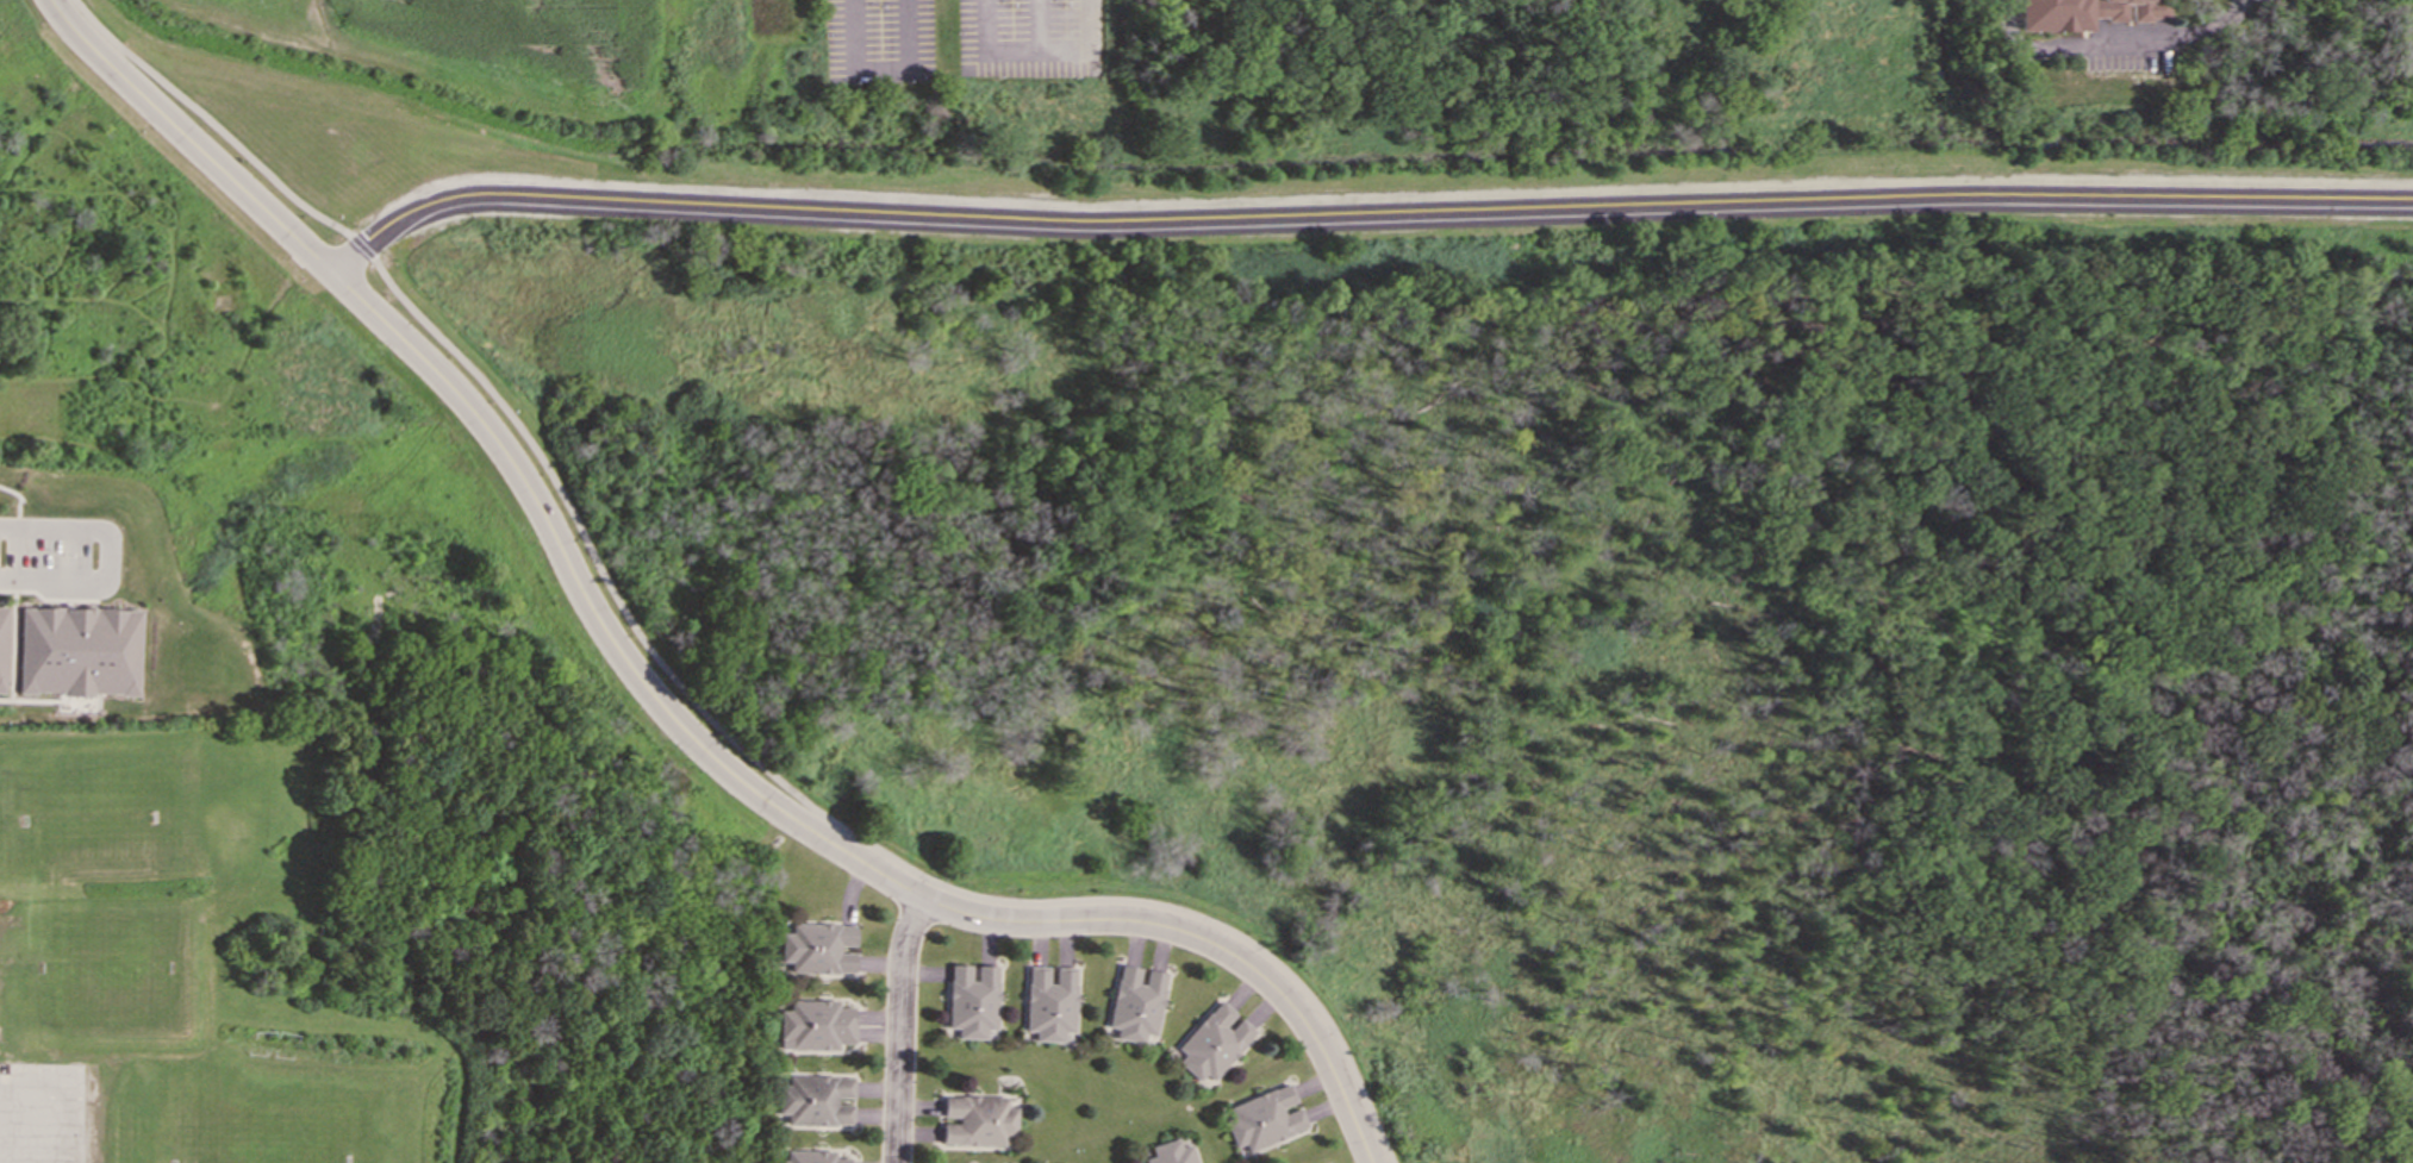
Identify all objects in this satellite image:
building: (2085, 13)
road: (1037, 26)
road: (2114, 40)
crop: (476, 48)
road: (1039, 52)
road: (881, 73)
road: (210, 121)
road: (1359, 223)
road: (363, 244)
road: (499, 446)
road: (13, 549)
building: (2, 646)
building: (79, 650)
road: (823, 813)
road: (1203, 940)
building: (818, 948)
building: (969, 1000)
building: (1047, 1002)
building: (1133, 1002)
building: (815, 1024)
road: (899, 1028)
building: (1211, 1042)
building: (813, 1100)
building: (1262, 1118)
building: (977, 1120)
building: (1170, 1152)
building: (810, 1157)

